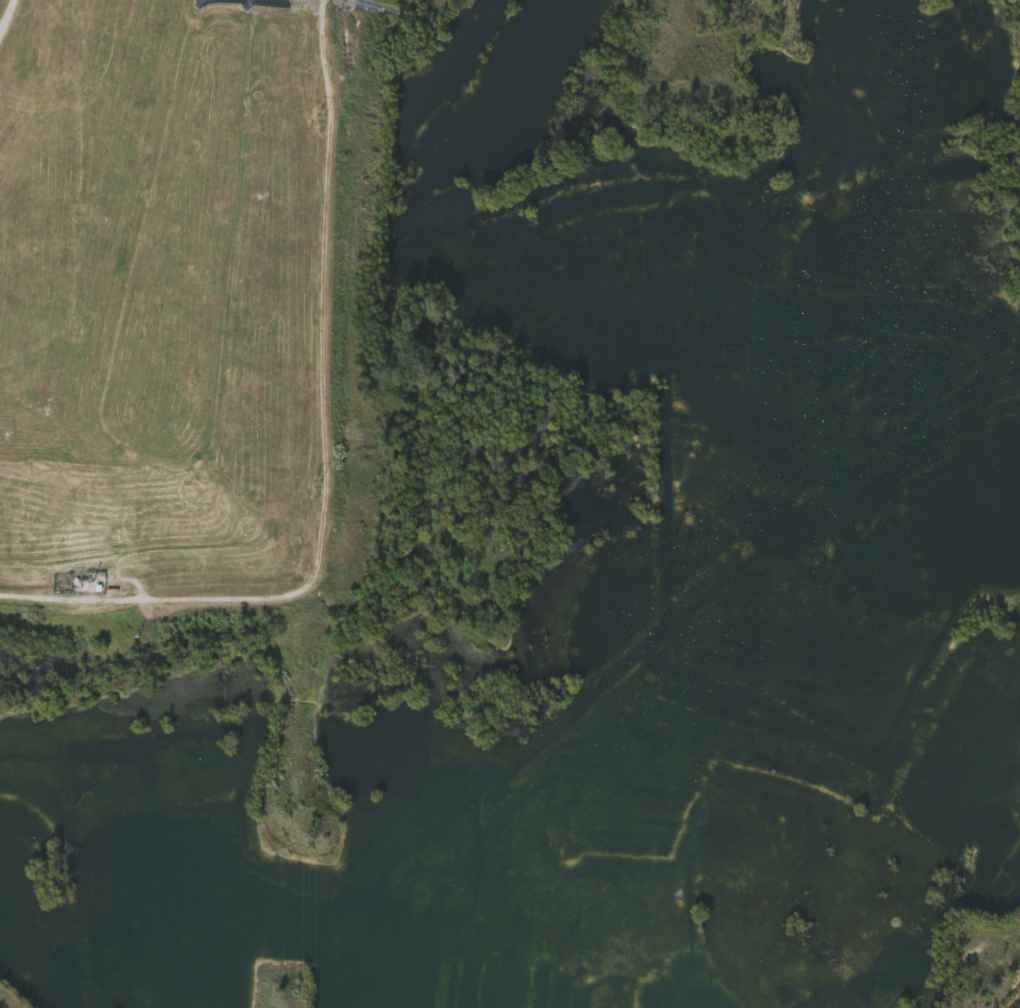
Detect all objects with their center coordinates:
road: (8, 17)
road: (324, 448)

